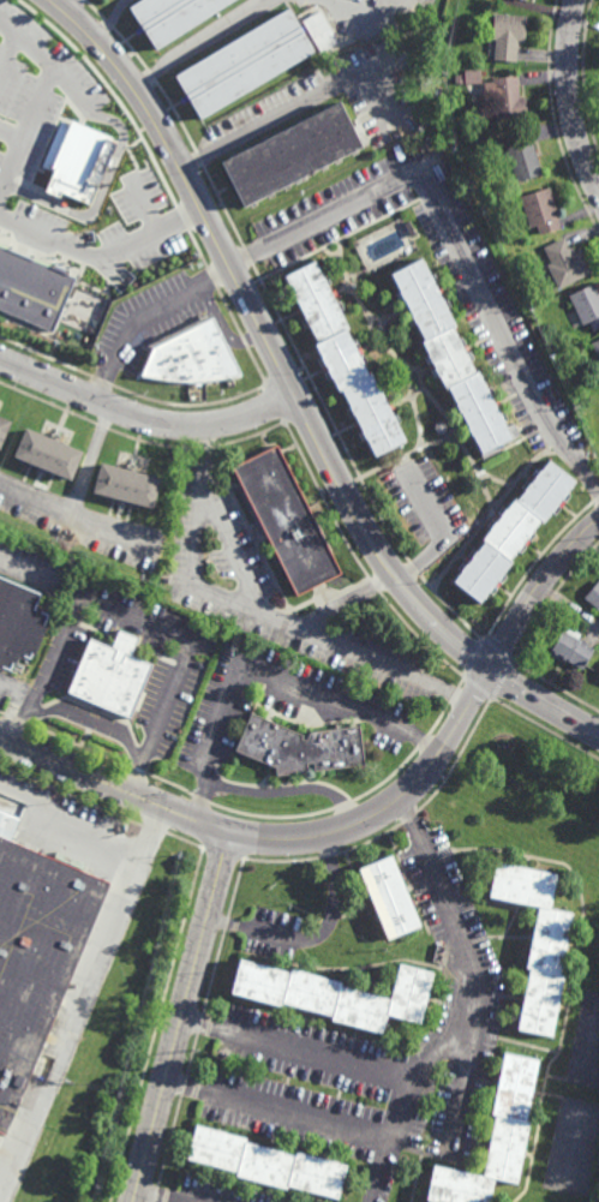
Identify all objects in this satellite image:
road: (67, 6)
building: (170, 16)
road: (109, 20)
building: (321, 30)
building: (509, 32)
road: (197, 43)
building: (245, 61)
building: (471, 76)
building: (507, 96)
road: (570, 97)
road: (38, 98)
road: (288, 116)
building: (292, 155)
building: (523, 155)
building: (70, 162)
road: (403, 178)
building: (540, 210)
building: (411, 227)
road: (100, 252)
building: (567, 263)
building: (34, 291)
building: (587, 304)
building: (579, 351)
building: (595, 352)
building: (192, 358)
building: (345, 358)
building: (453, 358)
road: (292, 395)
road: (143, 419)
building: (441, 427)
building: (5, 431)
building: (50, 455)
road: (94, 460)
building: (125, 486)
road: (77, 513)
building: (288, 521)
building: (514, 530)
road: (232, 551)
road: (413, 569)
road: (26, 576)
building: (594, 596)
road: (91, 598)
road: (256, 612)
building: (19, 622)
building: (571, 646)
road: (264, 672)
building: (112, 675)
road: (23, 704)
road: (160, 716)
road: (89, 722)
building: (300, 746)
road: (288, 793)
road: (71, 819)
road: (365, 820)
building: (390, 896)
road: (313, 937)
building: (538, 941)
building: (36, 952)
road: (469, 968)
building: (337, 994)
road: (80, 998)
road: (181, 1017)
road: (435, 1062)
road: (401, 1113)
building: (495, 1138)
building: (265, 1165)
road: (377, 1171)
road: (148, 1198)

